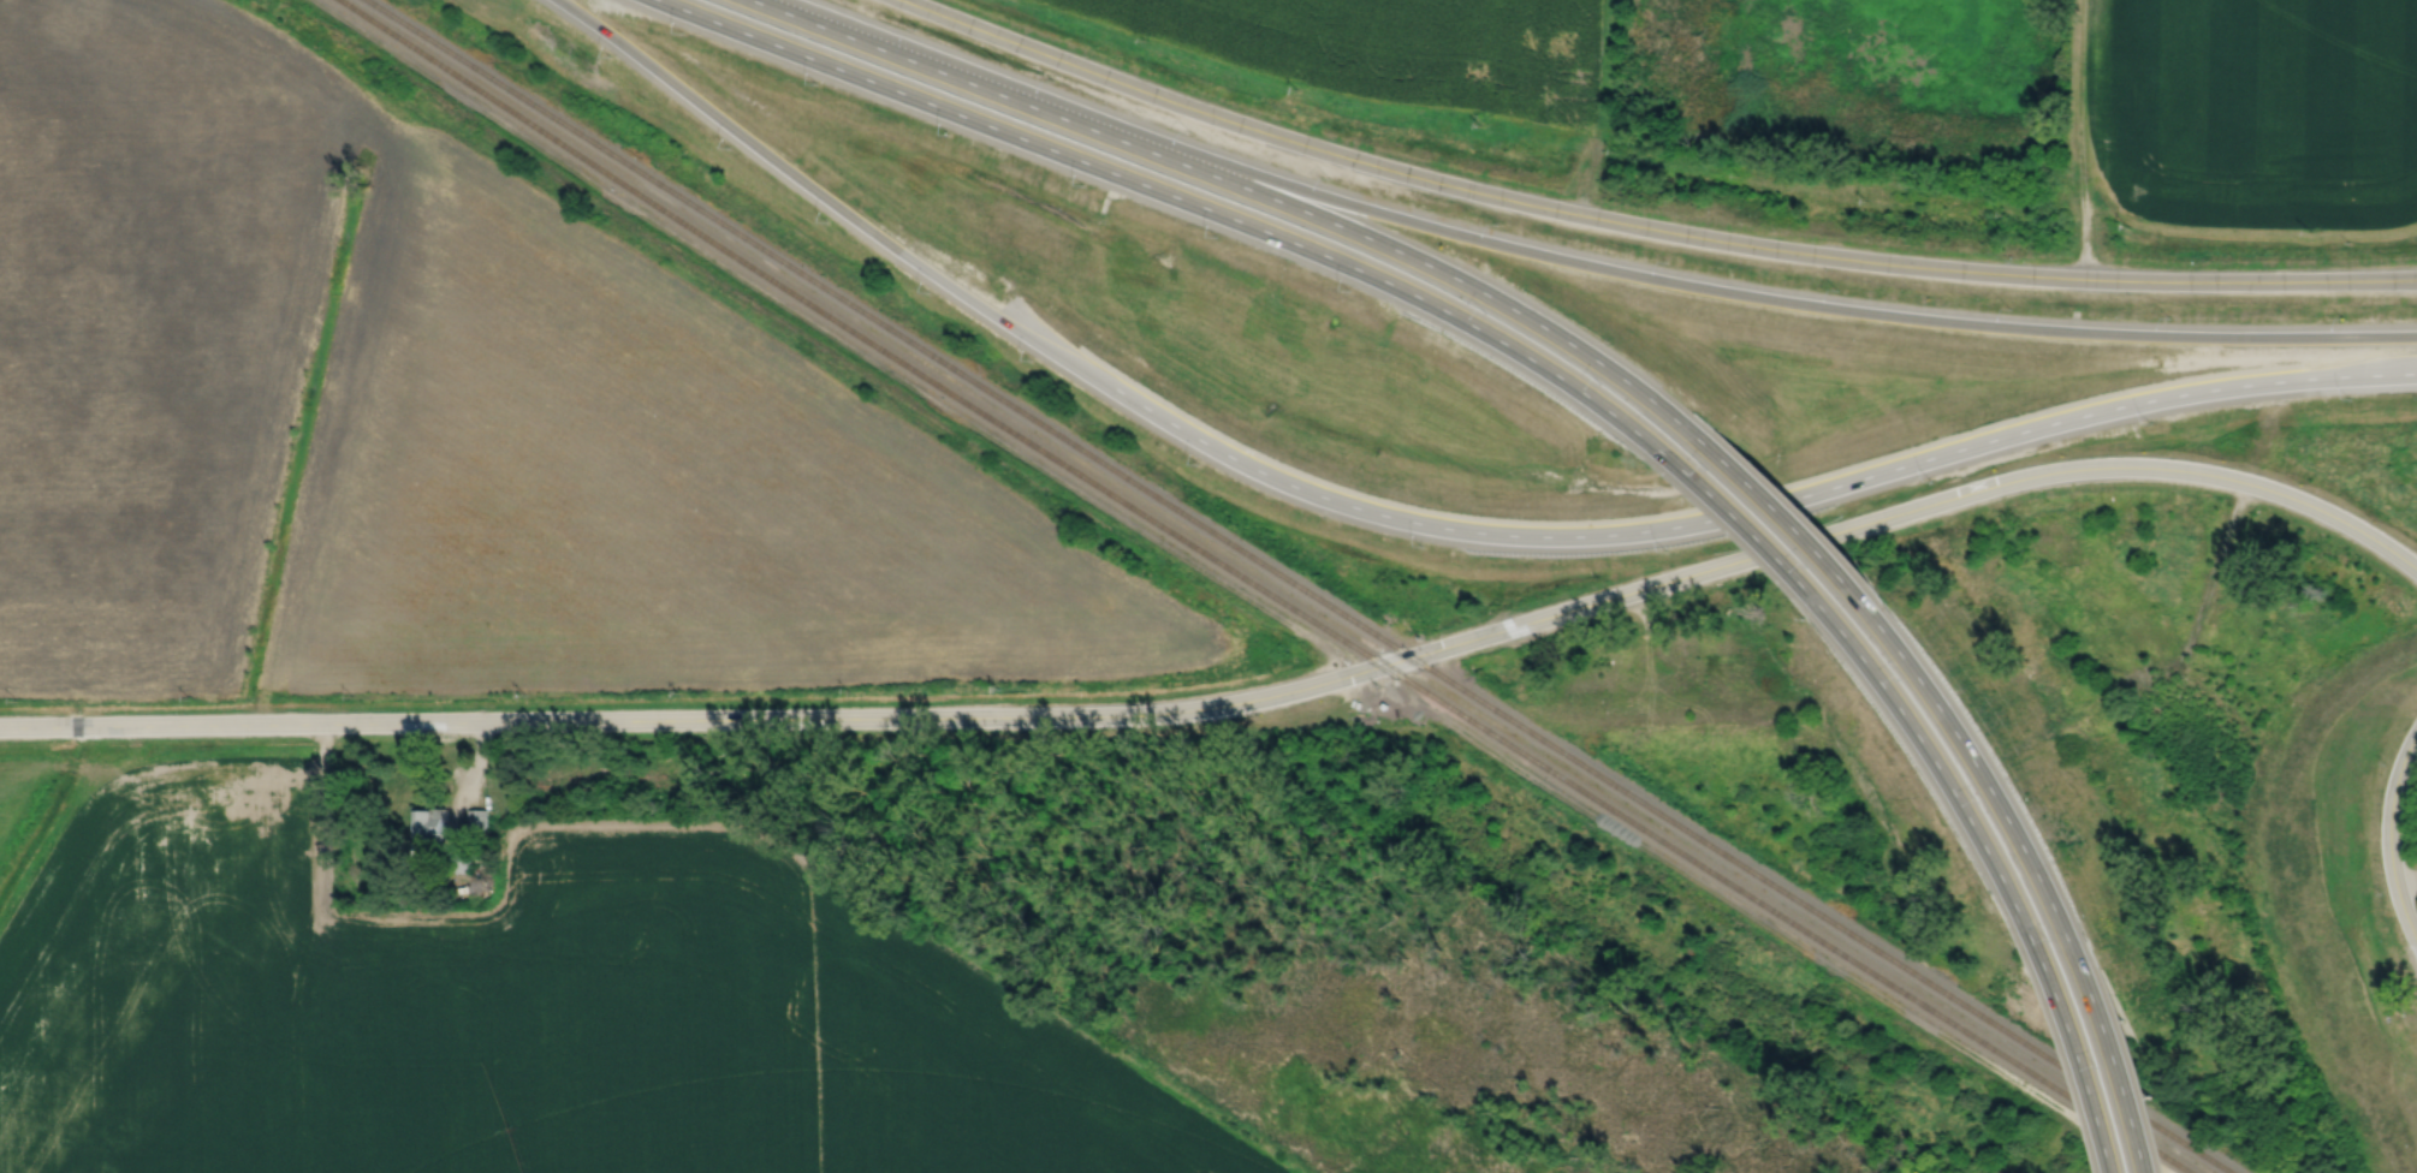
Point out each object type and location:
road: (779, 10)
crop: (1397, 49)
crop: (2249, 112)
road: (1266, 195)
road: (1175, 196)
road: (1644, 226)
road: (903, 254)
road: (1594, 266)
road: (1841, 483)
road: (1777, 507)
road: (1744, 520)
railway: (1299, 585)
railway: (1263, 589)
road: (1236, 702)
building: (1390, 704)
road: (1940, 755)
road: (1984, 758)
road: (471, 776)
building: (476, 820)
building: (429, 832)
road: (2389, 836)
building: (459, 861)
crop: (522, 1011)
road: (2078, 1049)
road: (2118, 1060)

